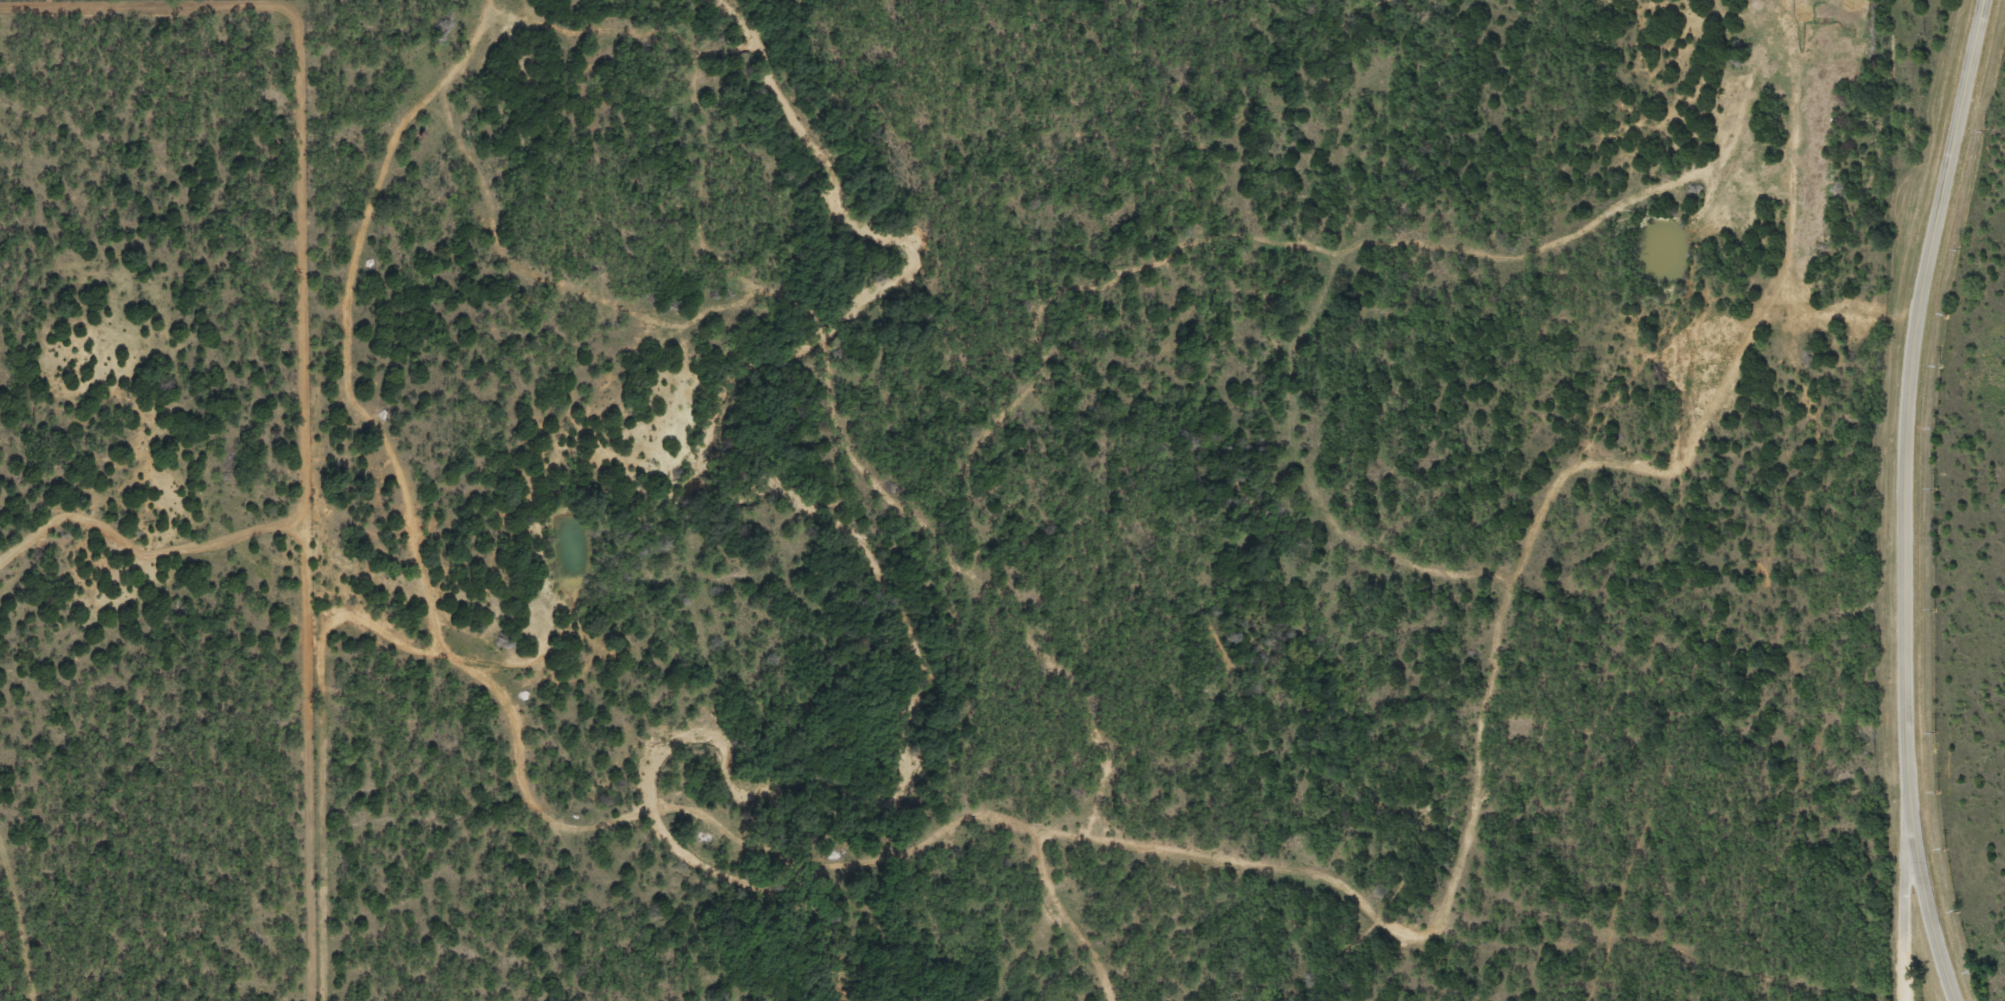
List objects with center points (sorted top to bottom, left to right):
road: (1906, 499)
road: (1905, 908)

